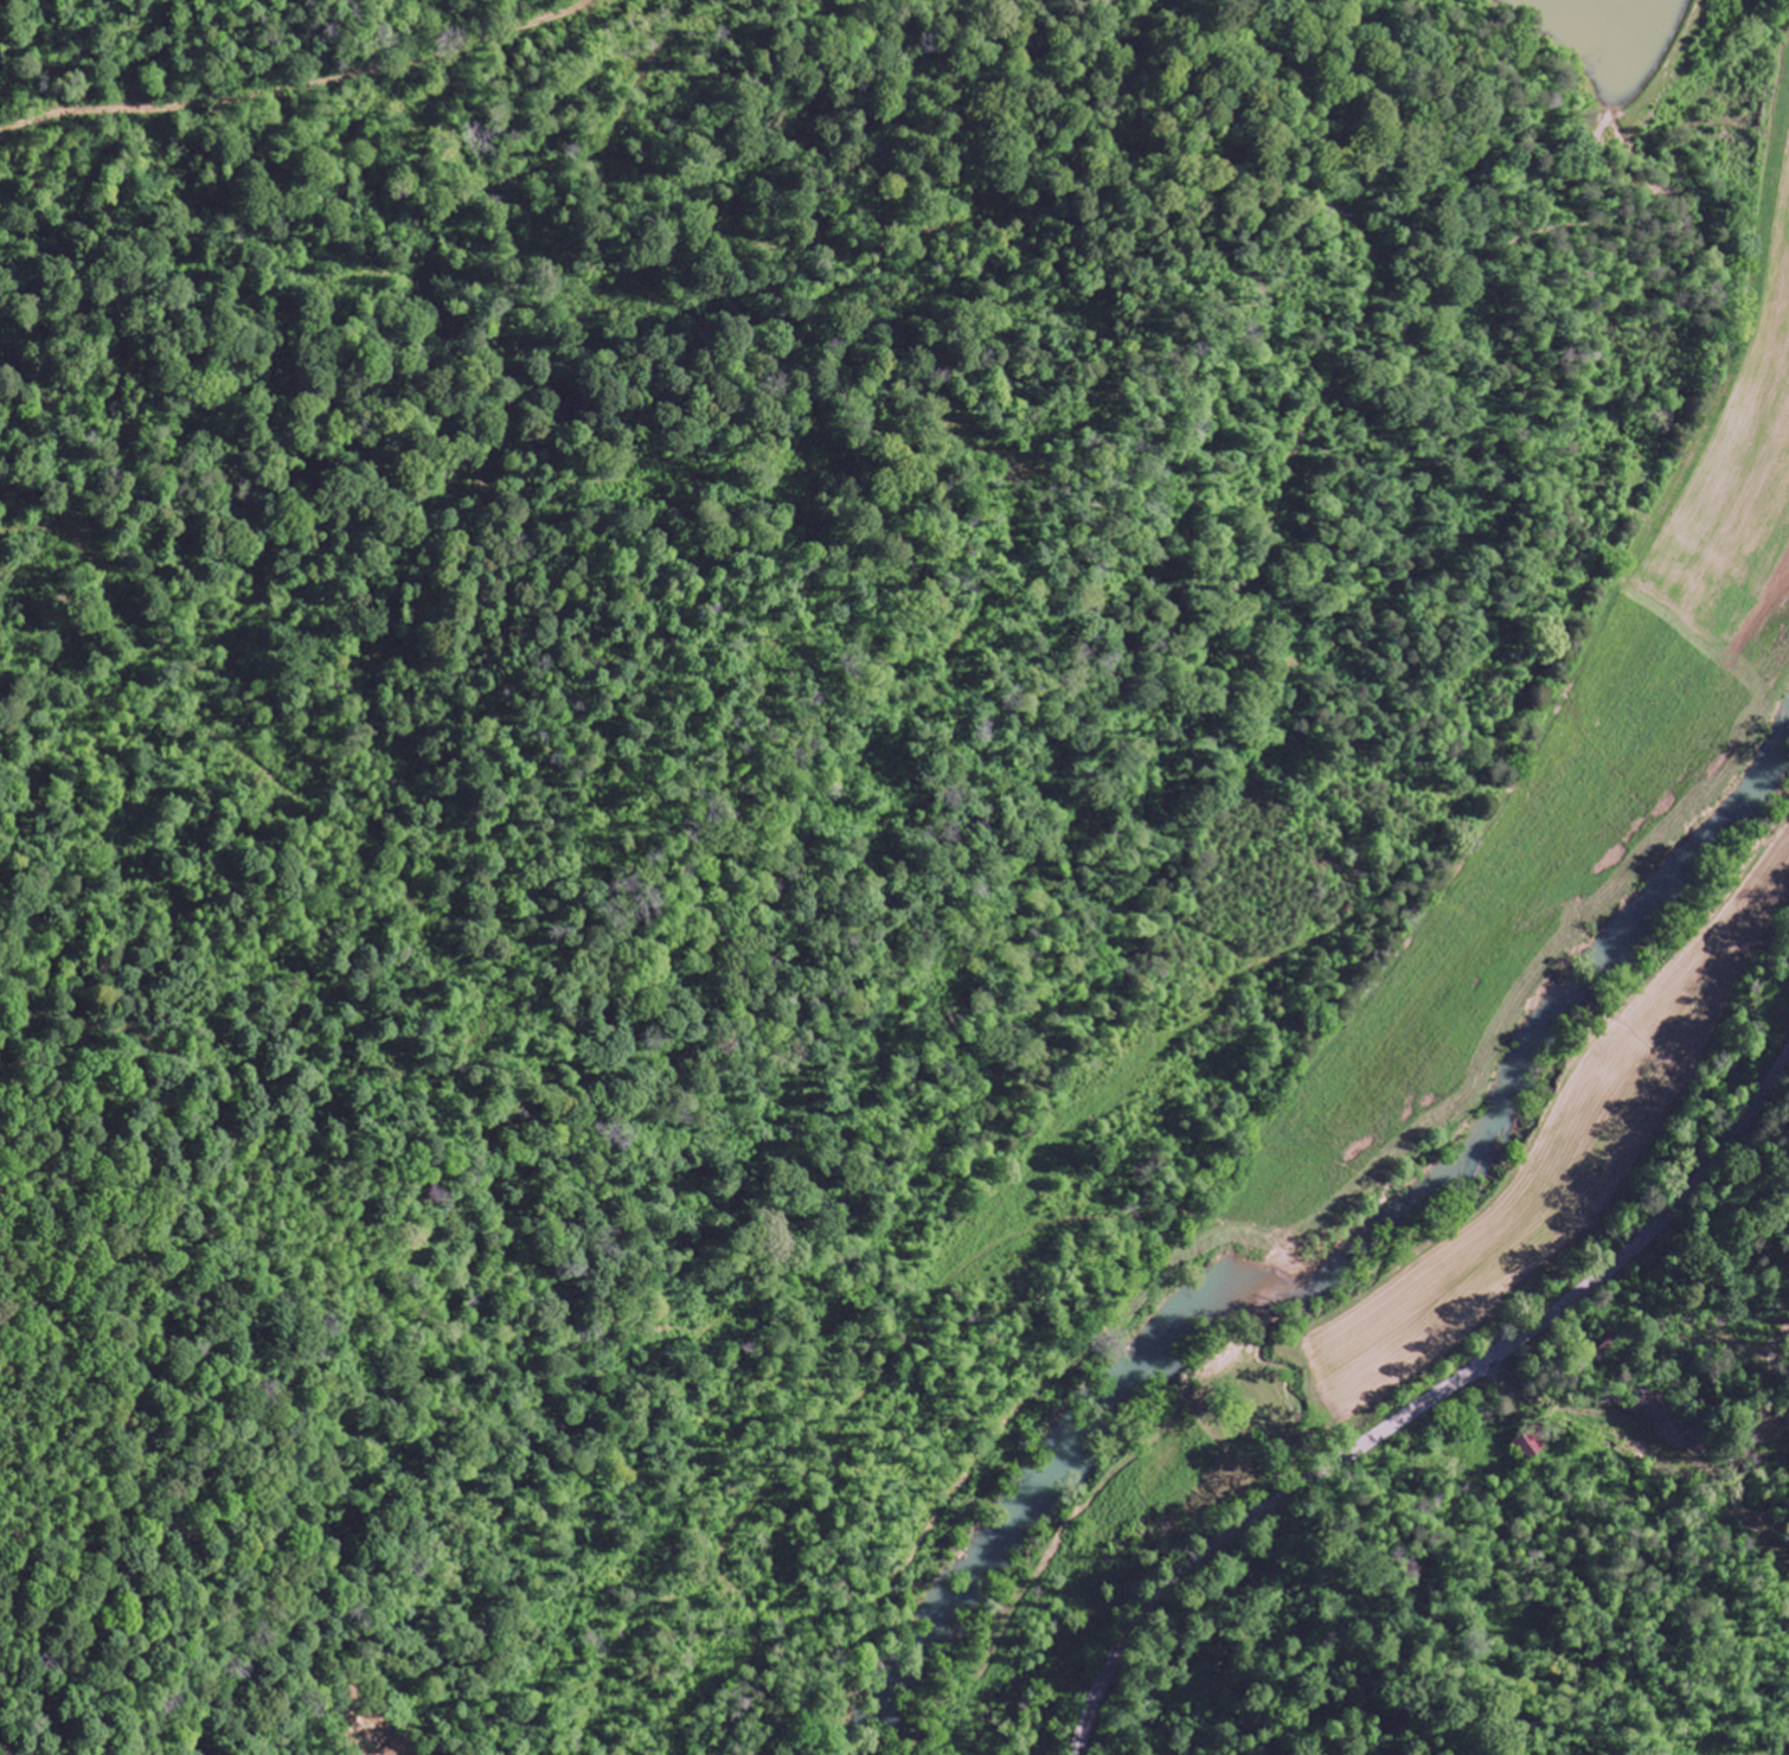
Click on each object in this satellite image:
road: (1426, 1402)
building: (1531, 1447)

